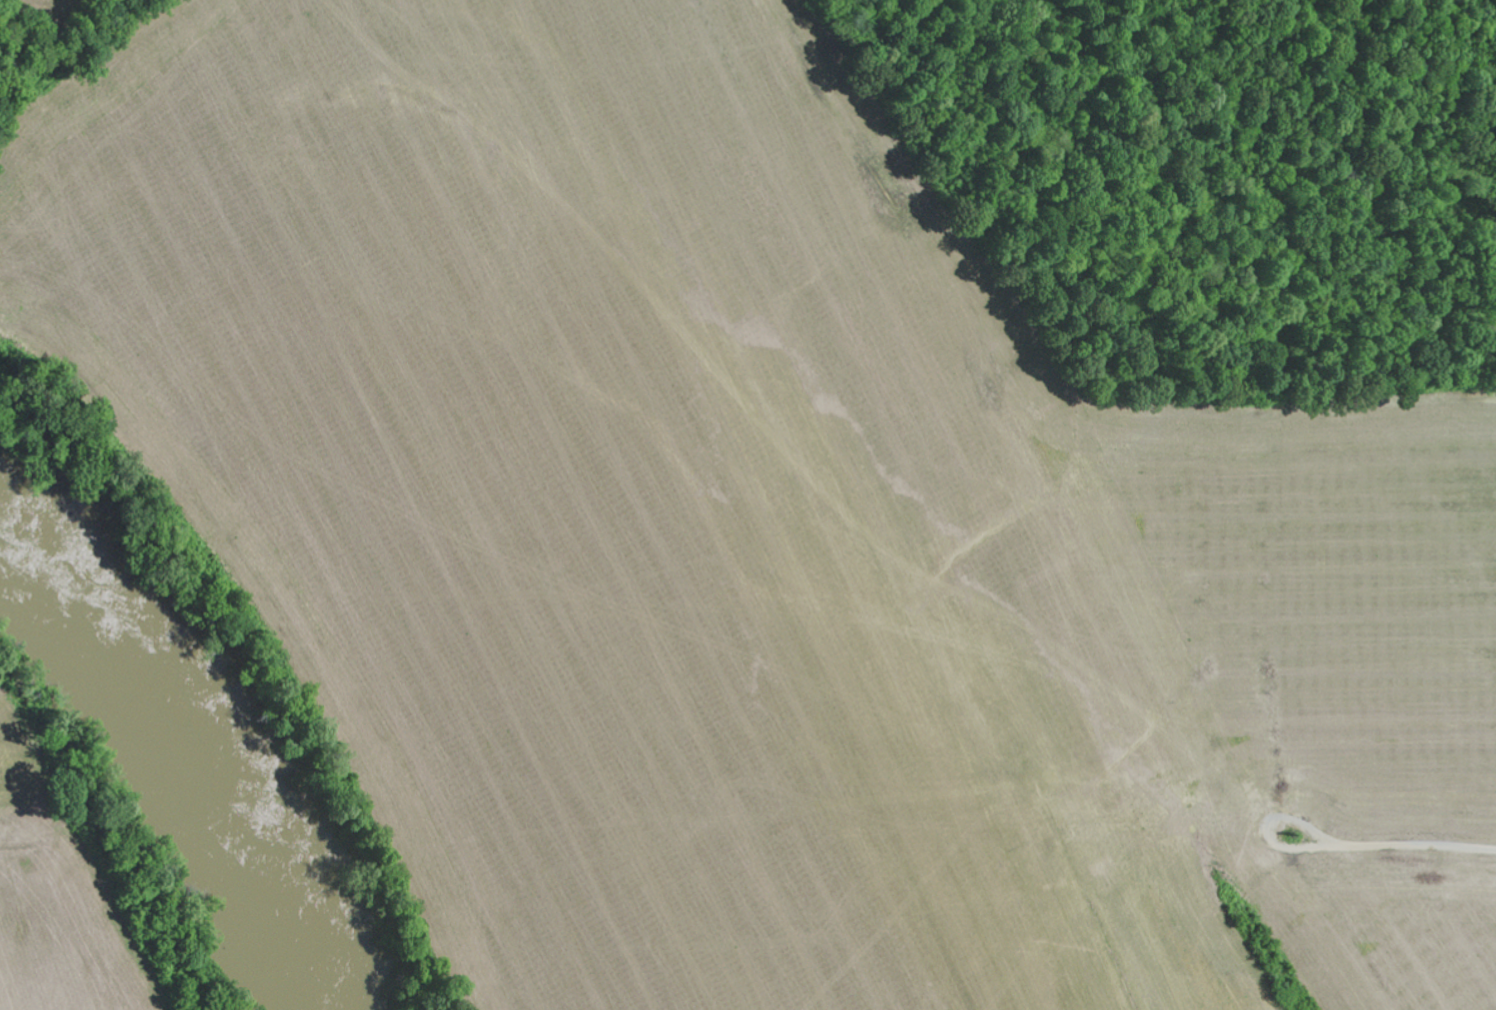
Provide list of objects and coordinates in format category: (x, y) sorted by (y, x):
river: (180, 762)
road: (1363, 847)

